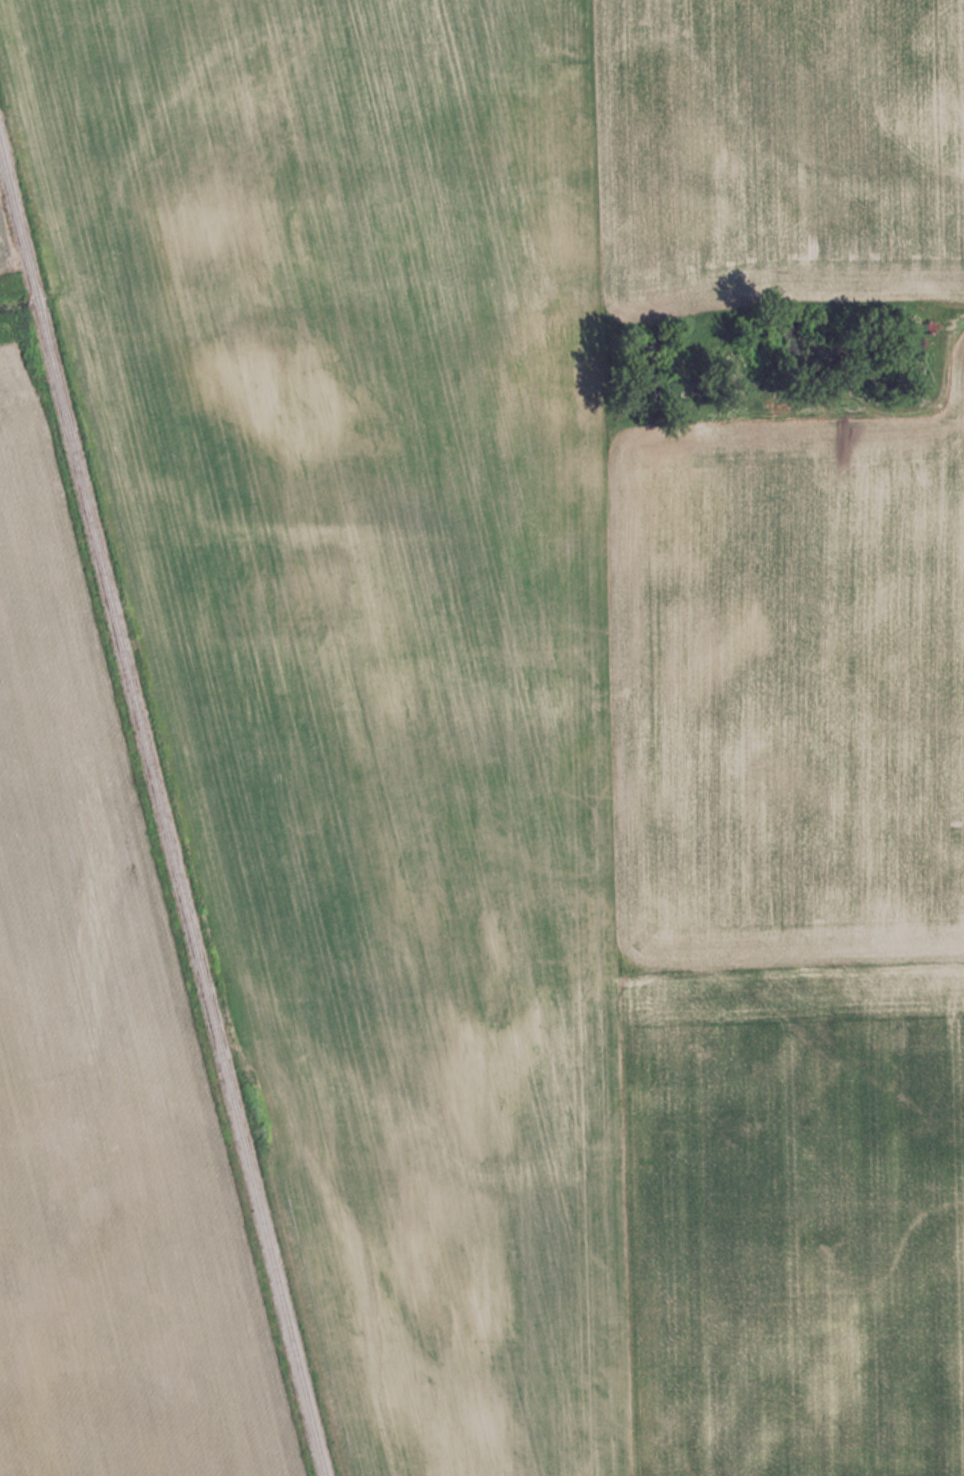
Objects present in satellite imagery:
railway: (163, 807)

